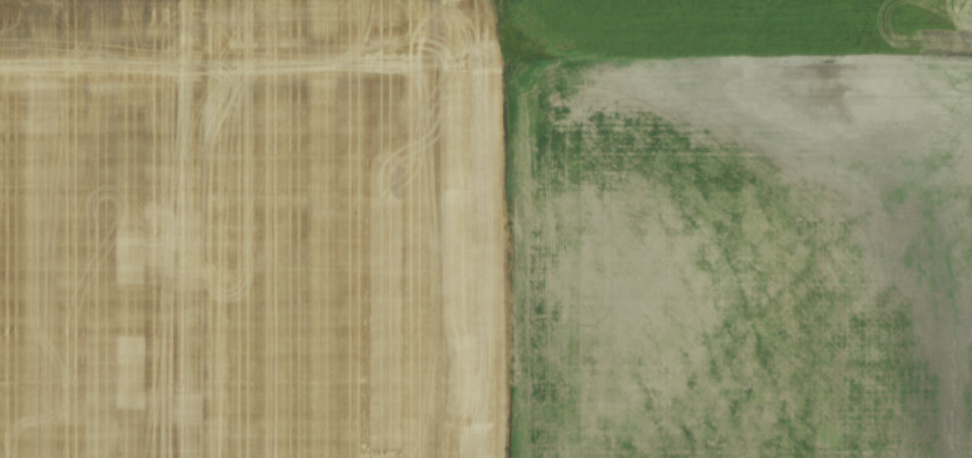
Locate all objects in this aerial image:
road: (491, 228)

